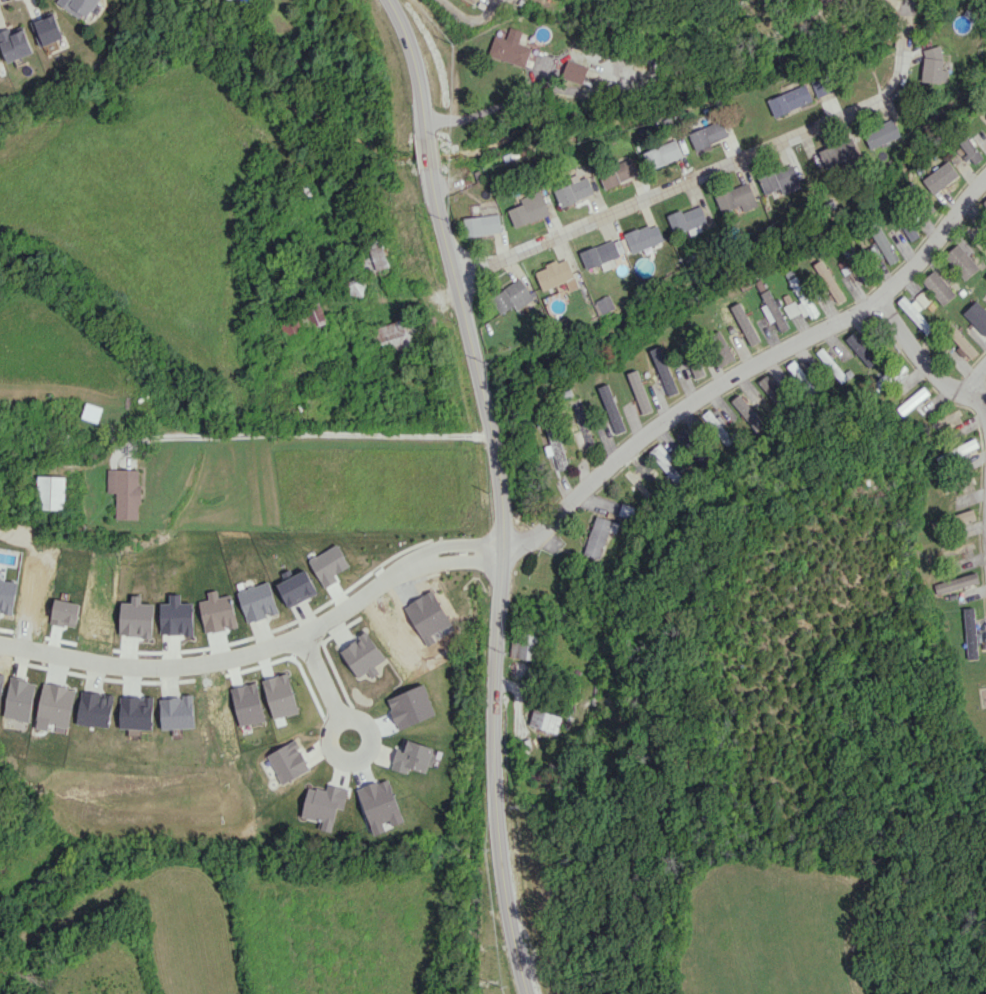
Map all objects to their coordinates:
building: (230, 0)
building: (474, 0)
building: (831, 2)
building: (80, 6)
building: (47, 28)
building: (15, 43)
building: (509, 49)
building: (933, 66)
building: (574, 71)
building: (821, 86)
building: (789, 100)
road: (492, 106)
building: (881, 133)
building: (708, 134)
building: (969, 149)
building: (839, 152)
building: (663, 153)
road: (717, 168)
building: (618, 173)
building: (780, 179)
building: (573, 191)
building: (737, 199)
building: (984, 203)
building: (528, 209)
building: (687, 219)
building: (482, 224)
building: (910, 231)
building: (644, 237)
building: (884, 245)
building: (602, 252)
building: (374, 255)
building: (960, 261)
building: (556, 275)
building: (985, 277)
building: (829, 280)
building: (354, 285)
building: (938, 287)
building: (512, 296)
building: (800, 300)
building: (605, 304)
building: (772, 310)
building: (916, 310)
building: (314, 315)
building: (976, 316)
building: (291, 325)
building: (399, 334)
building: (959, 340)
building: (721, 351)
road: (916, 355)
building: (831, 364)
road: (751, 366)
building: (663, 370)
building: (801, 377)
building: (771, 389)
road: (969, 390)
building: (639, 391)
building: (913, 400)
building: (611, 408)
building: (91, 412)
building: (581, 424)
building: (715, 425)
road: (304, 432)
building: (555, 449)
building: (956, 451)
building: (665, 463)
road: (499, 491)
building: (51, 492)
building: (125, 492)
building: (965, 516)
building: (599, 535)
building: (956, 582)
building: (296, 588)
building: (257, 602)
building: (970, 633)
building: (523, 645)
road: (264, 648)
building: (363, 655)
road: (325, 688)
building: (19, 699)
building: (56, 704)
building: (95, 709)
building: (176, 712)
building: (544, 720)
building: (412, 756)
building: (324, 804)

